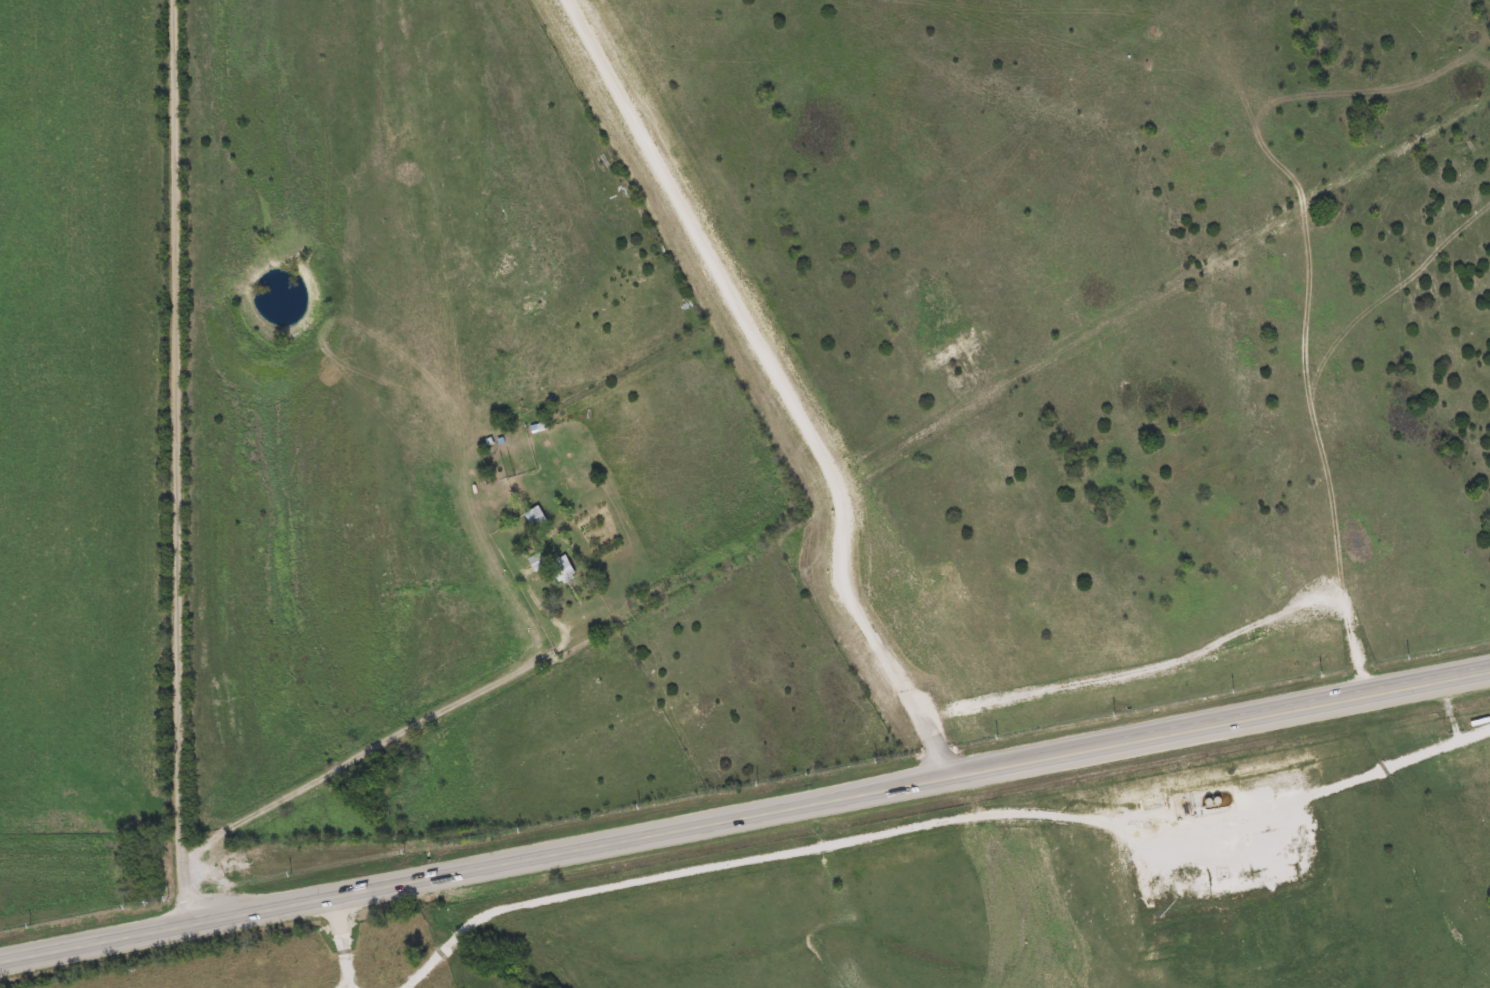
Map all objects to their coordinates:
road: (181, 462)
building: (531, 517)
building: (559, 570)
road: (394, 736)
road: (744, 817)
road: (767, 859)
road: (345, 943)
road: (361, 987)

